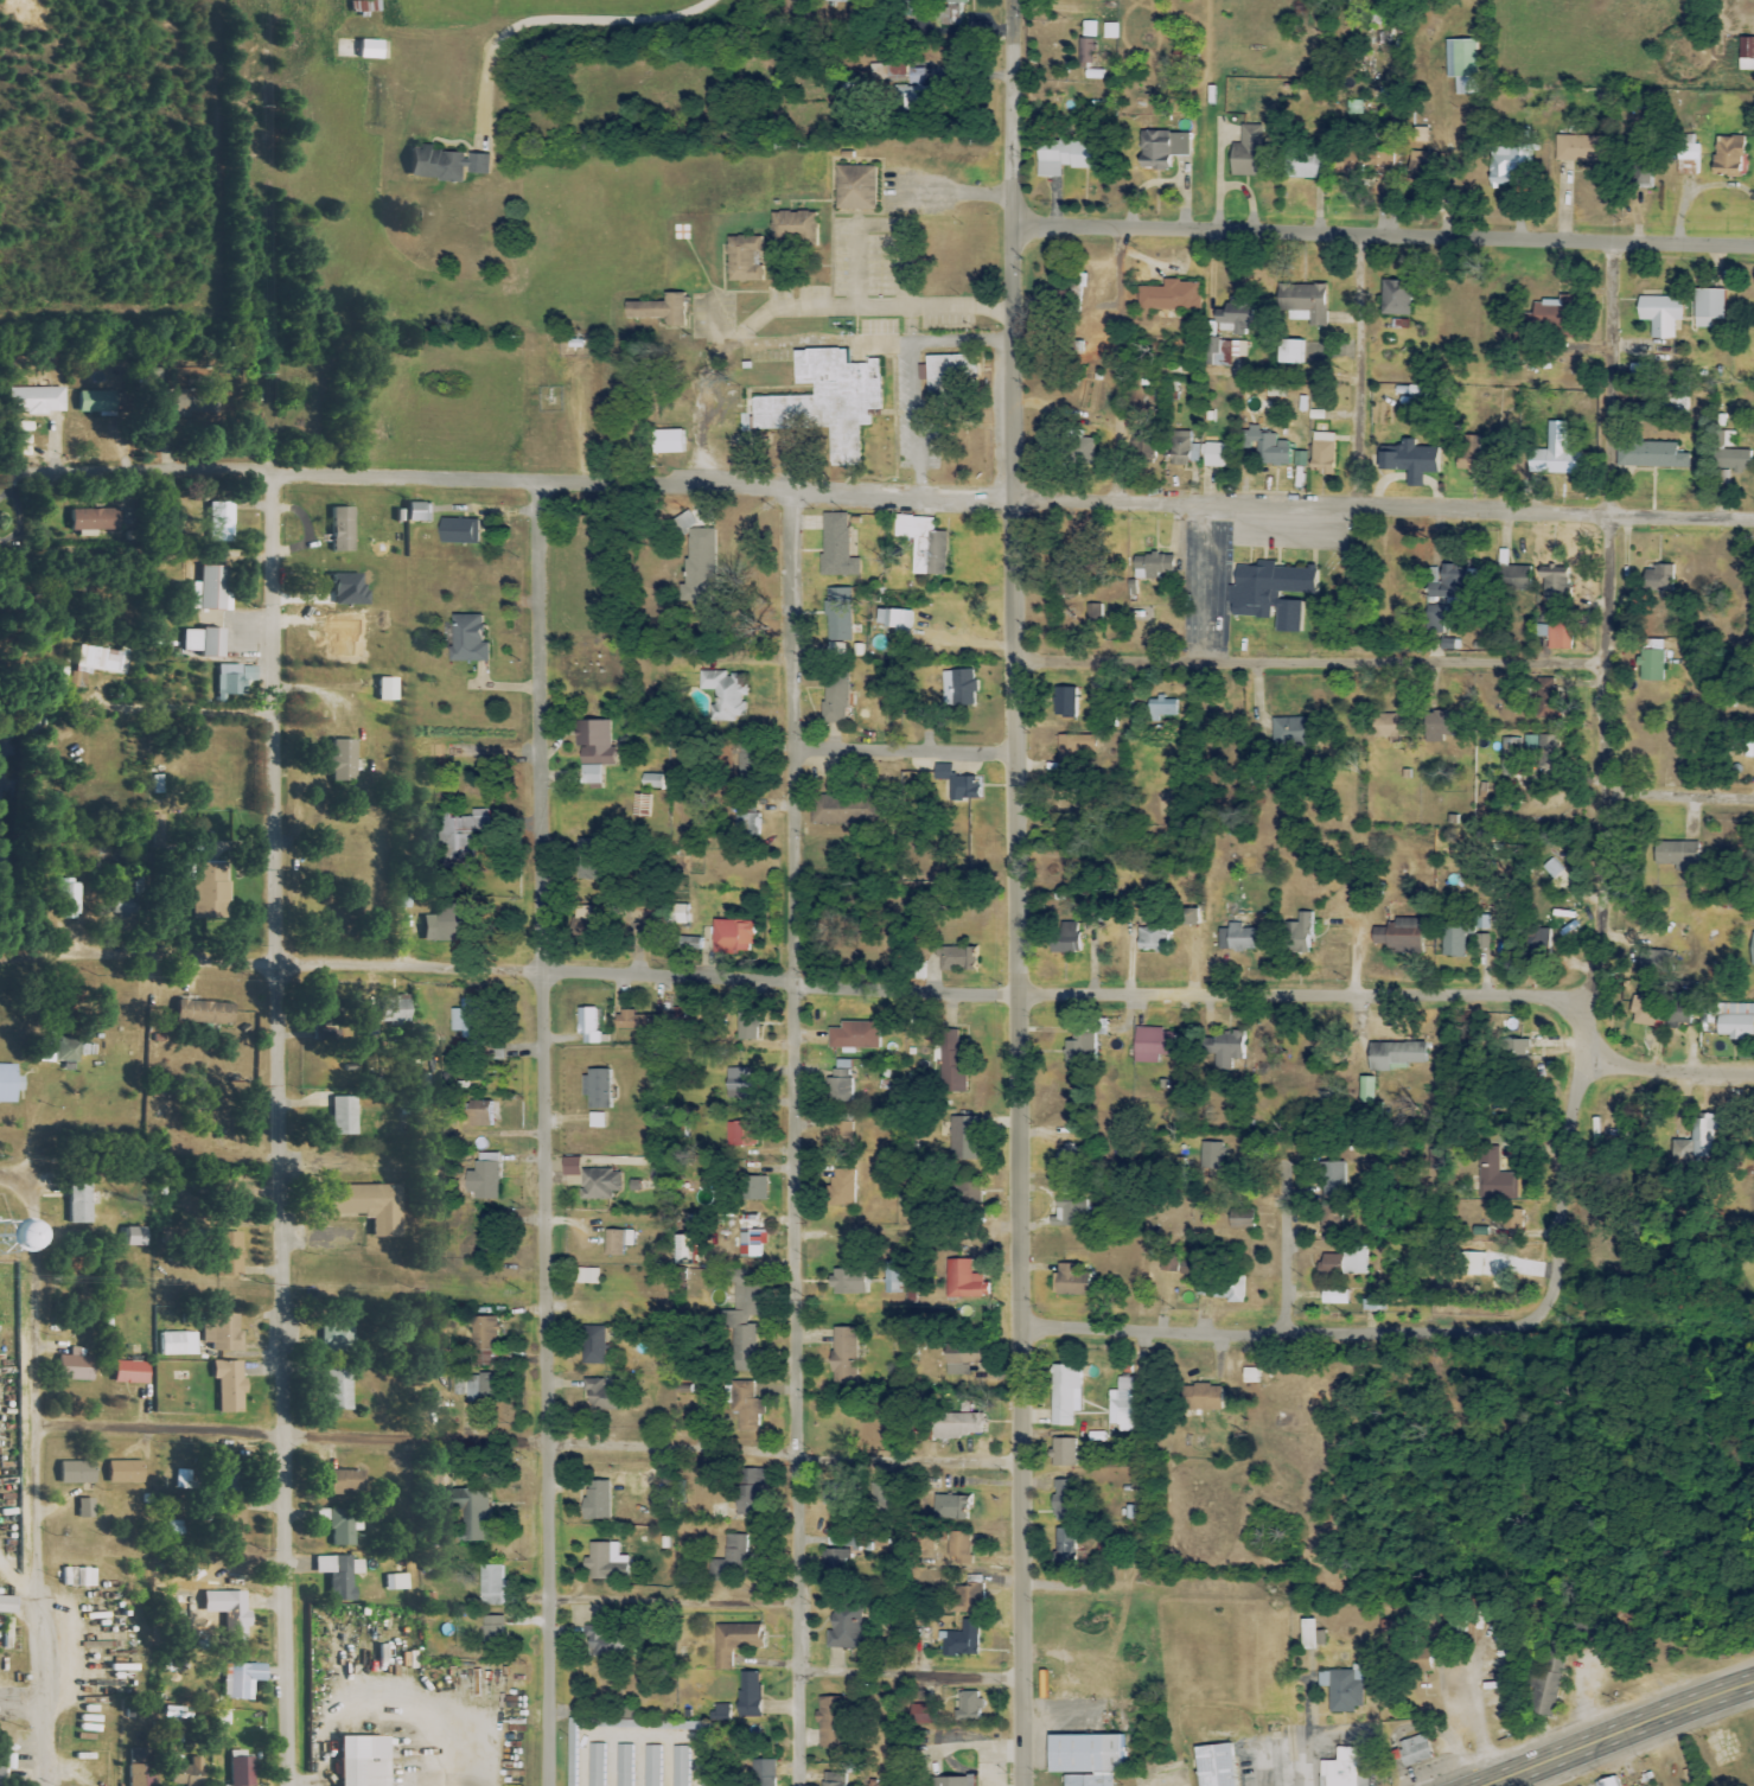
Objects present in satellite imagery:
building: (836, 0)
building: (946, 11)
road: (560, 19)
building: (1089, 28)
building: (1110, 31)
building: (368, 50)
building: (1086, 53)
building: (1746, 53)
building: (1460, 58)
building: (1465, 85)
building: (917, 97)
road: (1006, 113)
building: (1420, 134)
building: (1161, 148)
building: (1582, 148)
building: (1250, 153)
building: (1688, 154)
building: (1728, 155)
building: (1067, 157)
building: (445, 164)
building: (1303, 164)
building: (1346, 164)
building: (1422, 166)
building: (1506, 166)
building: (1644, 173)
building: (855, 187)
road: (958, 198)
building: (795, 227)
road: (1379, 237)
helipad: (687, 238)
building: (744, 259)
building: (1076, 294)
building: (1171, 296)
building: (1395, 298)
building: (1309, 304)
road: (783, 307)
building: (1708, 307)
building: (659, 311)
building: (1552, 311)
building: (1659, 314)
building: (1288, 351)
road: (1120, 368)
building: (948, 372)
road: (1363, 374)
road: (914, 375)
road: (1609, 381)
building: (241, 389)
building: (174, 396)
building: (829, 398)
building: (37, 401)
building: (89, 402)
building: (665, 441)
building: (1268, 447)
building: (1181, 449)
building: (1085, 451)
building: (1147, 451)
building: (1322, 453)
building: (1554, 453)
building: (1650, 454)
building: (1216, 455)
building: (1471, 455)
building: (1299, 459)
building: (1409, 460)
building: (1735, 460)
road: (876, 498)
building: (415, 512)
building: (93, 519)
building: (221, 523)
building: (342, 530)
building: (458, 531)
building: (923, 544)
building: (836, 547)
building: (697, 563)
building: (1152, 566)
building: (1516, 578)
building: (1658, 579)
building: (1554, 582)
road: (1204, 585)
building: (1450, 585)
building: (209, 589)
building: (1271, 593)
building: (837, 614)
building: (1095, 615)
building: (894, 619)
building: (1435, 619)
building: (1558, 633)
building: (467, 638)
building: (203, 643)
building: (835, 651)
building: (1652, 659)
building: (98, 661)
road: (1305, 665)
building: (235, 680)
building: (961, 688)
building: (385, 690)
building: (725, 694)
building: (1544, 697)
building: (834, 700)
building: (1065, 702)
road: (186, 708)
building: (1162, 709)
building: (1442, 725)
building: (1391, 726)
building: (1293, 732)
building: (1074, 745)
building: (593, 750)
building: (1514, 753)
road: (900, 754)
building: (340, 761)
building: (751, 764)
building: (650, 782)
building: (159, 785)
building: (961, 785)
road: (1676, 799)
building: (848, 810)
building: (746, 817)
building: (468, 828)
building: (1676, 855)
building: (586, 874)
building: (208, 889)
building: (66, 901)
building: (591, 917)
building: (1188, 917)
building: (663, 918)
road: (1590, 923)
building: (438, 927)
building: (734, 935)
building: (1299, 935)
building: (1401, 936)
building: (1236, 938)
building: (690, 939)
building: (1153, 939)
building: (1455, 939)
building: (1485, 942)
building: (1542, 942)
building: (1063, 944)
building: (1752, 951)
building: (957, 958)
building: (1658, 963)
road: (24, 964)
road: (817, 978)
road: (1010, 1006)
building: (1684, 1007)
building: (394, 1009)
building: (1645, 1012)
building: (204, 1014)
building: (466, 1018)
building: (642, 1021)
building: (1736, 1021)
building: (371, 1026)
building: (587, 1026)
building: (746, 1026)
building: (856, 1035)
building: (1152, 1045)
building: (1222, 1048)
building: (1079, 1050)
building: (58, 1052)
building: (1525, 1053)
building: (1393, 1054)
building: (950, 1060)
road: (1667, 1063)
building: (843, 1080)
building: (738, 1083)
building: (9, 1084)
building: (597, 1089)
building: (1366, 1090)
building: (480, 1114)
building: (343, 1116)
building: (595, 1120)
road: (281, 1134)
building: (741, 1134)
building: (842, 1134)
road: (541, 1137)
building: (965, 1138)
building: (1696, 1140)
road: (793, 1141)
building: (1211, 1156)
road: (1363, 1173)
building: (1333, 1174)
building: (486, 1178)
building: (1494, 1178)
building: (599, 1184)
building: (754, 1188)
building: (840, 1188)
building: (78, 1205)
building: (365, 1207)
building: (1070, 1213)
building: (1240, 1218)
helipad: (12, 1231)
building: (132, 1237)
building: (750, 1238)
building: (617, 1242)
road: (1283, 1248)
building: (228, 1255)
building: (1346, 1262)
building: (1175, 1264)
building: (586, 1276)
building: (892, 1277)
building: (963, 1281)
building: (1070, 1281)
building: (847, 1282)
building: (1233, 1289)
building: (1334, 1297)
building: (742, 1321)
building: (483, 1332)
building: (339, 1333)
road: (1275, 1333)
building: (222, 1334)
building: (177, 1345)
building: (593, 1345)
building: (843, 1354)
building: (959, 1364)
building: (75, 1366)
building: (129, 1373)
building: (229, 1386)
building: (473, 1389)
building: (337, 1390)
building: (1064, 1395)
building: (601, 1397)
building: (1203, 1397)
building: (433, 1403)
building: (1121, 1405)
building: (747, 1408)
building: (957, 1425)
road: (525, 1443)
building: (1063, 1453)
road: (38, 1466)
building: (75, 1473)
building: (123, 1473)
building: (343, 1482)
building: (747, 1492)
building: (833, 1493)
building: (595, 1500)
building: (1063, 1501)
building: (953, 1507)
building: (85, 1508)
building: (230, 1523)
building: (343, 1530)
building: (1064, 1545)
building: (961, 1548)
building: (736, 1561)
building: (838, 1561)
building: (606, 1562)
building: (339, 1576)
building: (395, 1583)
building: (491, 1586)
building: (970, 1594)
road: (670, 1601)
building: (2, 1606)
building: (236, 1622)
building: (846, 1629)
building: (492, 1634)
building: (1310, 1635)
building: (961, 1640)
building: (734, 1643)
building: (598, 1645)
road: (905, 1675)
building: (244, 1682)
building: (1544, 1688)
building: (1345, 1691)
building: (750, 1695)
road: (23, 1697)
building: (968, 1707)
building: (722, 1710)
building: (921, 1715)
building: (659, 1723)
building: (830, 1723)
road: (1616, 1735)
building: (1414, 1750)
building: (1083, 1759)
building: (359, 1761)
building: (595, 1765)
building: (624, 1765)
building: (651, 1765)
building: (680, 1766)
building: (1213, 1766)
building: (139, 1767)
building: (1339, 1768)
building: (572, 1771)
building: (706, 1771)
building: (241, 1772)
building: (766, 1773)
building: (187, 1774)
building: (0, 1775)
building: (831, 1780)
building: (951, 1781)
building: (1607, 1781)

